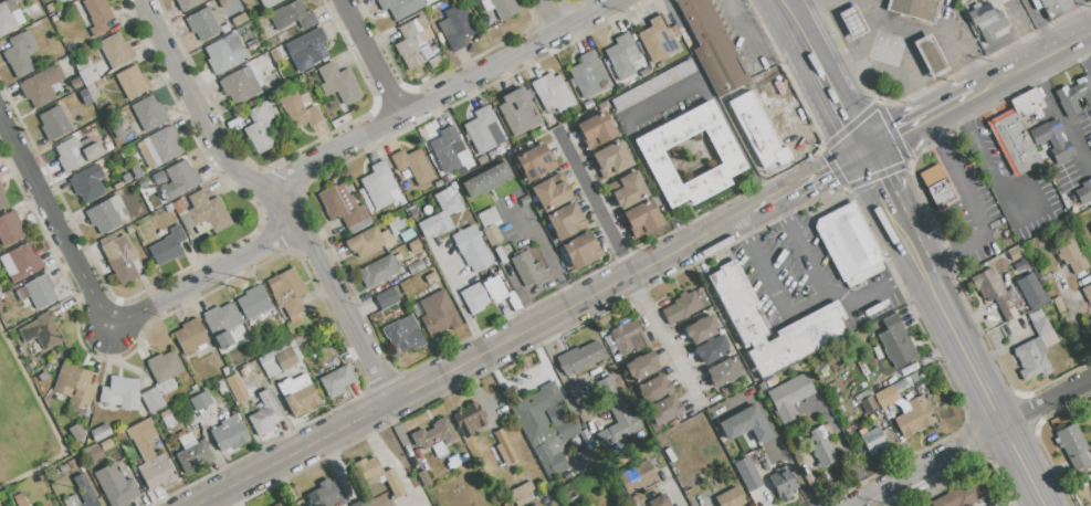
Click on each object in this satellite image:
building: (269, 3)
building: (189, 4)
building: (34, 7)
building: (400, 7)
building: (1056, 7)
building: (50, 8)
building: (501, 8)
building: (914, 9)
road: (1085, 9)
road: (816, 10)
road: (549, 14)
building: (97, 15)
building: (292, 15)
building: (9, 18)
building: (54, 18)
building: (984, 19)
building: (239, 20)
road: (794, 20)
building: (45, 21)
building: (852, 22)
road: (1014, 22)
building: (204, 23)
road: (1041, 23)
building: (455, 28)
building: (224, 29)
road: (927, 30)
road: (742, 35)
road: (783, 36)
building: (657, 40)
building: (412, 41)
road: (1056, 48)
building: (307, 49)
building: (116, 52)
road: (810, 52)
road: (851, 52)
building: (227, 53)
building: (20, 54)
road: (1082, 55)
road: (371, 56)
building: (622, 56)
building: (930, 56)
building: (434, 62)
building: (86, 72)
building: (587, 75)
road: (905, 76)
road: (999, 78)
road: (181, 80)
building: (742, 81)
building: (132, 82)
building: (75, 83)
building: (338, 83)
building: (653, 84)
building: (41, 86)
building: (241, 86)
building: (93, 91)
road: (440, 92)
building: (553, 94)
building: (1074, 95)
building: (85, 97)
road: (661, 97)
building: (1027, 103)
building: (588, 104)
road: (837, 106)
building: (298, 110)
building: (517, 112)
building: (149, 114)
road: (1060, 115)
road: (919, 120)
building: (54, 123)
building: (261, 126)
building: (596, 129)
building: (481, 130)
building: (117, 133)
building: (1052, 141)
building: (1013, 143)
building: (162, 145)
building: (447, 149)
traffic signals: (862, 151)
building: (75, 154)
building: (728, 157)
building: (611, 159)
building: (535, 161)
building: (412, 166)
road: (987, 167)
building: (136, 171)
building: (461, 171)
road: (819, 173)
building: (126, 177)
building: (179, 180)
building: (486, 180)
building: (87, 183)
building: (438, 183)
road: (878, 183)
building: (377, 185)
building: (117, 186)
building: (937, 186)
building: (628, 189)
building: (1084, 191)
building: (550, 192)
building: (2, 198)
building: (409, 198)
building: (524, 200)
road: (279, 201)
road: (595, 201)
building: (654, 201)
building: (401, 202)
road: (764, 203)
building: (168, 207)
building: (178, 207)
building: (345, 209)
building: (411, 209)
building: (144, 211)
building: (204, 212)
building: (106, 214)
building: (441, 214)
building: (489, 217)
building: (642, 218)
building: (566, 221)
road: (55, 224)
building: (396, 224)
building: (1090, 226)
building: (10, 228)
building: (129, 229)
road: (903, 233)
building: (407, 234)
building: (492, 234)
building: (367, 241)
building: (849, 243)
building: (167, 245)
building: (415, 245)
building: (472, 249)
road: (546, 249)
building: (580, 250)
building: (501, 254)
building: (1070, 255)
building: (119, 257)
building: (21, 262)
building: (1020, 265)
building: (415, 267)
building: (527, 267)
building: (378, 271)
building: (487, 271)
road: (203, 277)
road: (541, 284)
road: (774, 284)
building: (1030, 289)
building: (39, 291)
building: (287, 292)
building: (994, 292)
building: (482, 293)
building: (1087, 293)
building: (386, 298)
road: (852, 301)
building: (254, 302)
building: (514, 302)
building: (1058, 305)
building: (681, 307)
building: (438, 314)
road: (1070, 316)
building: (221, 319)
building: (821, 319)
building: (623, 321)
building: (1088, 328)
road: (353, 329)
building: (700, 329)
building: (42, 330)
building: (191, 336)
building: (402, 337)
building: (626, 338)
road: (667, 338)
building: (224, 340)
building: (896, 341)
building: (1036, 347)
building: (712, 349)
building: (878, 351)
building: (280, 358)
road: (471, 358)
building: (579, 358)
building: (642, 366)
building: (165, 367)
building: (863, 368)
building: (231, 370)
building: (224, 371)
building: (723, 371)
road: (978, 379)
building: (336, 380)
building: (905, 381)
building: (220, 383)
building: (192, 384)
building: (235, 387)
building: (74, 388)
building: (653, 389)
building: (223, 391)
building: (119, 392)
building: (298, 394)
building: (157, 396)
building: (862, 396)
building: (885, 396)
building: (789, 397)
building: (909, 397)
building: (201, 400)
building: (868, 404)
building: (245, 405)
building: (220, 407)
building: (664, 409)
building: (615, 413)
building: (265, 414)
building: (914, 417)
building: (167, 418)
building: (190, 418)
building: (470, 420)
park: (23, 421)
building: (746, 424)
building: (544, 428)
building: (76, 431)
building: (101, 432)
building: (434, 433)
building: (119, 435)
building: (229, 435)
building: (187, 441)
building: (873, 441)
road: (971, 442)
building: (106, 444)
building: (1072, 445)
building: (820, 446)
building: (504, 447)
building: (439, 450)
building: (93, 454)
building: (670, 455)
road: (787, 455)
building: (150, 456)
building: (193, 456)
building: (587, 458)
building: (71, 464)
building: (368, 471)
building: (746, 473)
building: (637, 476)
building: (424, 477)
building: (392, 483)
building: (783, 483)
building: (115, 485)
building: (82, 493)
building: (328, 494)
building: (523, 494)
building: (962, 494)
road: (232, 497)
building: (730, 497)
building: (634, 500)
building: (659, 500)
building: (22, 502)
building: (360, 503)
building: (279, 505)

